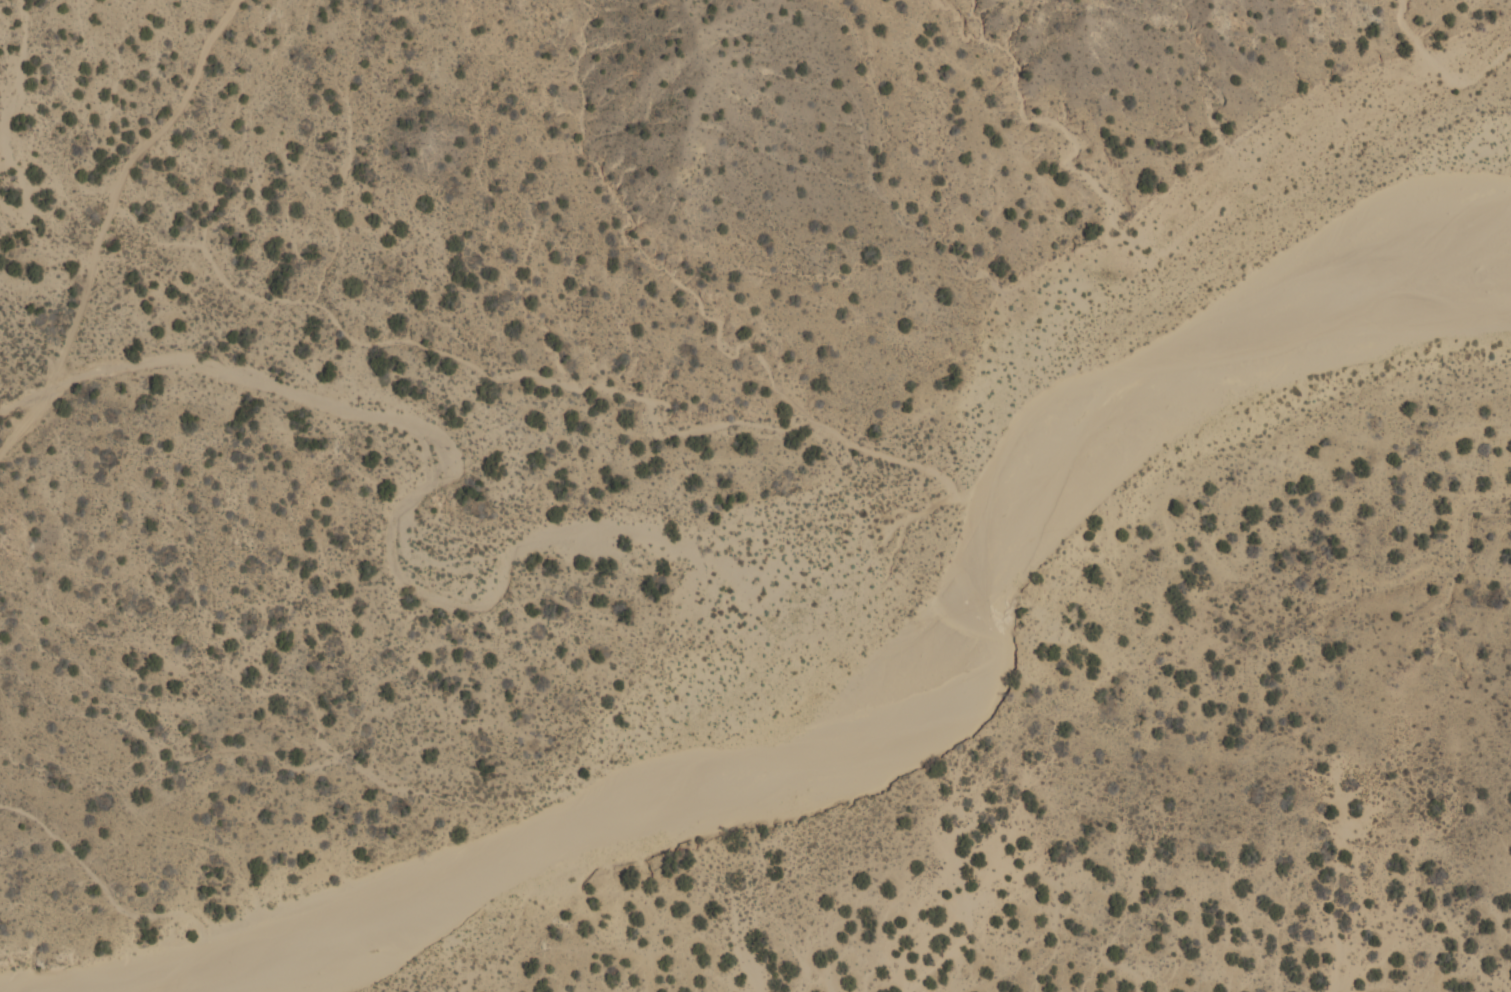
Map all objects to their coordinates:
road: (105, 223)

